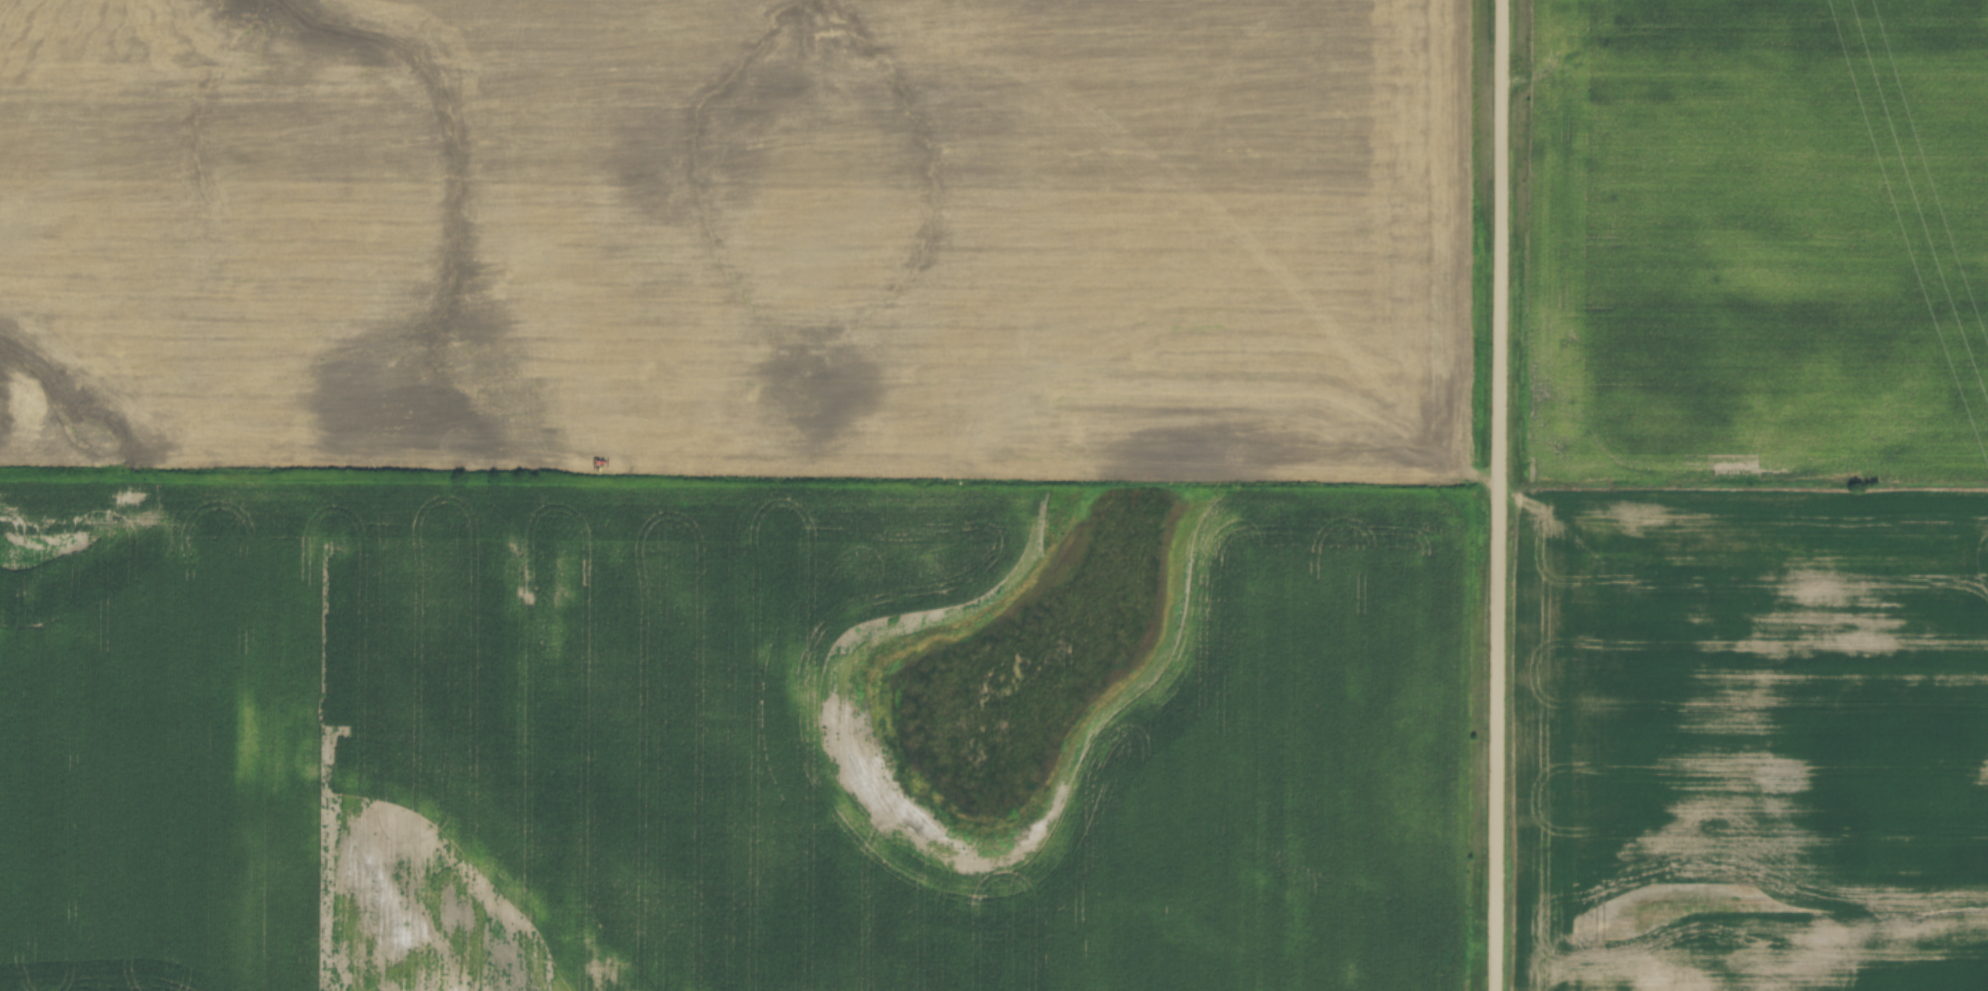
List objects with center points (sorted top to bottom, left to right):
road: (1489, 495)

